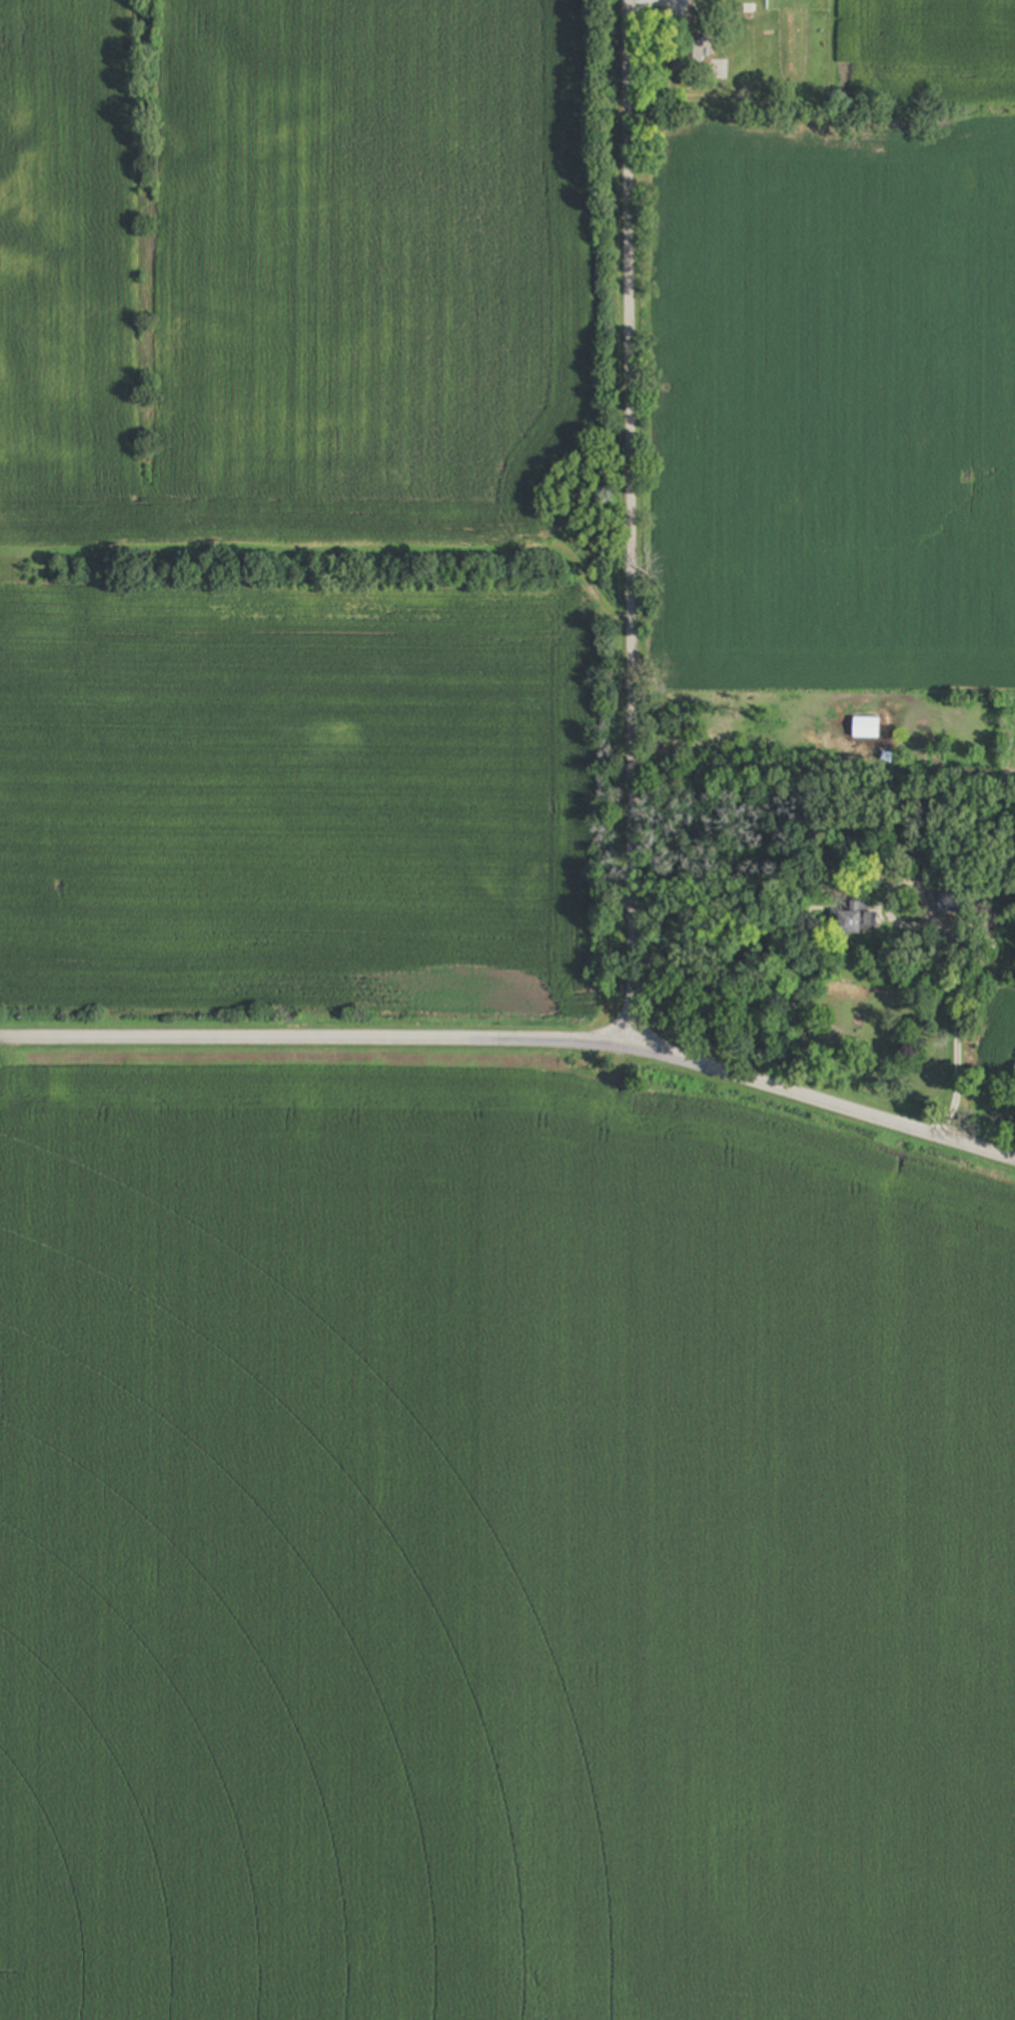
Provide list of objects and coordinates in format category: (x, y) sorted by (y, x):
road: (645, 3)
building: (697, 52)
road: (628, 520)
building: (956, 903)
building: (856, 918)
road: (954, 1031)
road: (516, 1041)

